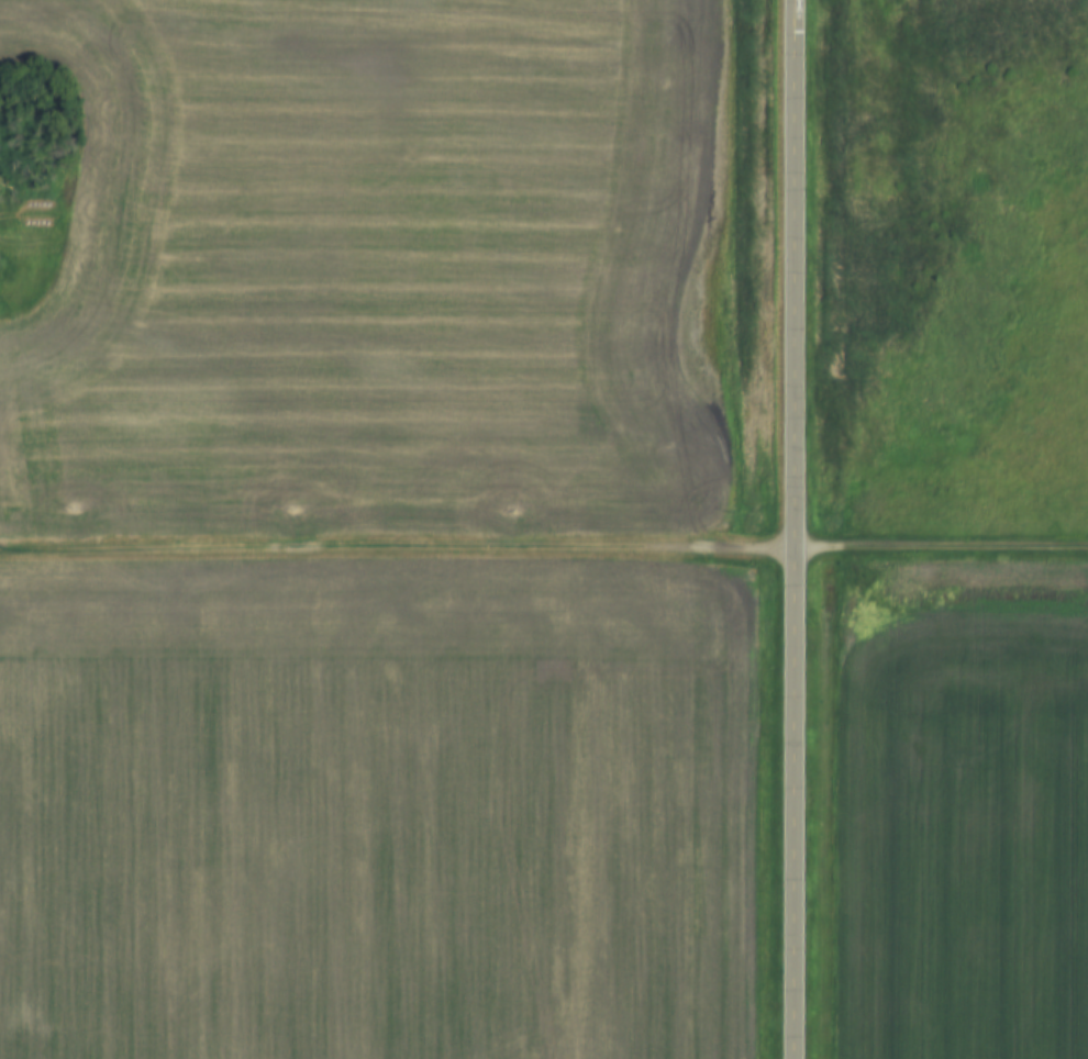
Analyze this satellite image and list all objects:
road: (804, 528)
road: (543, 548)

